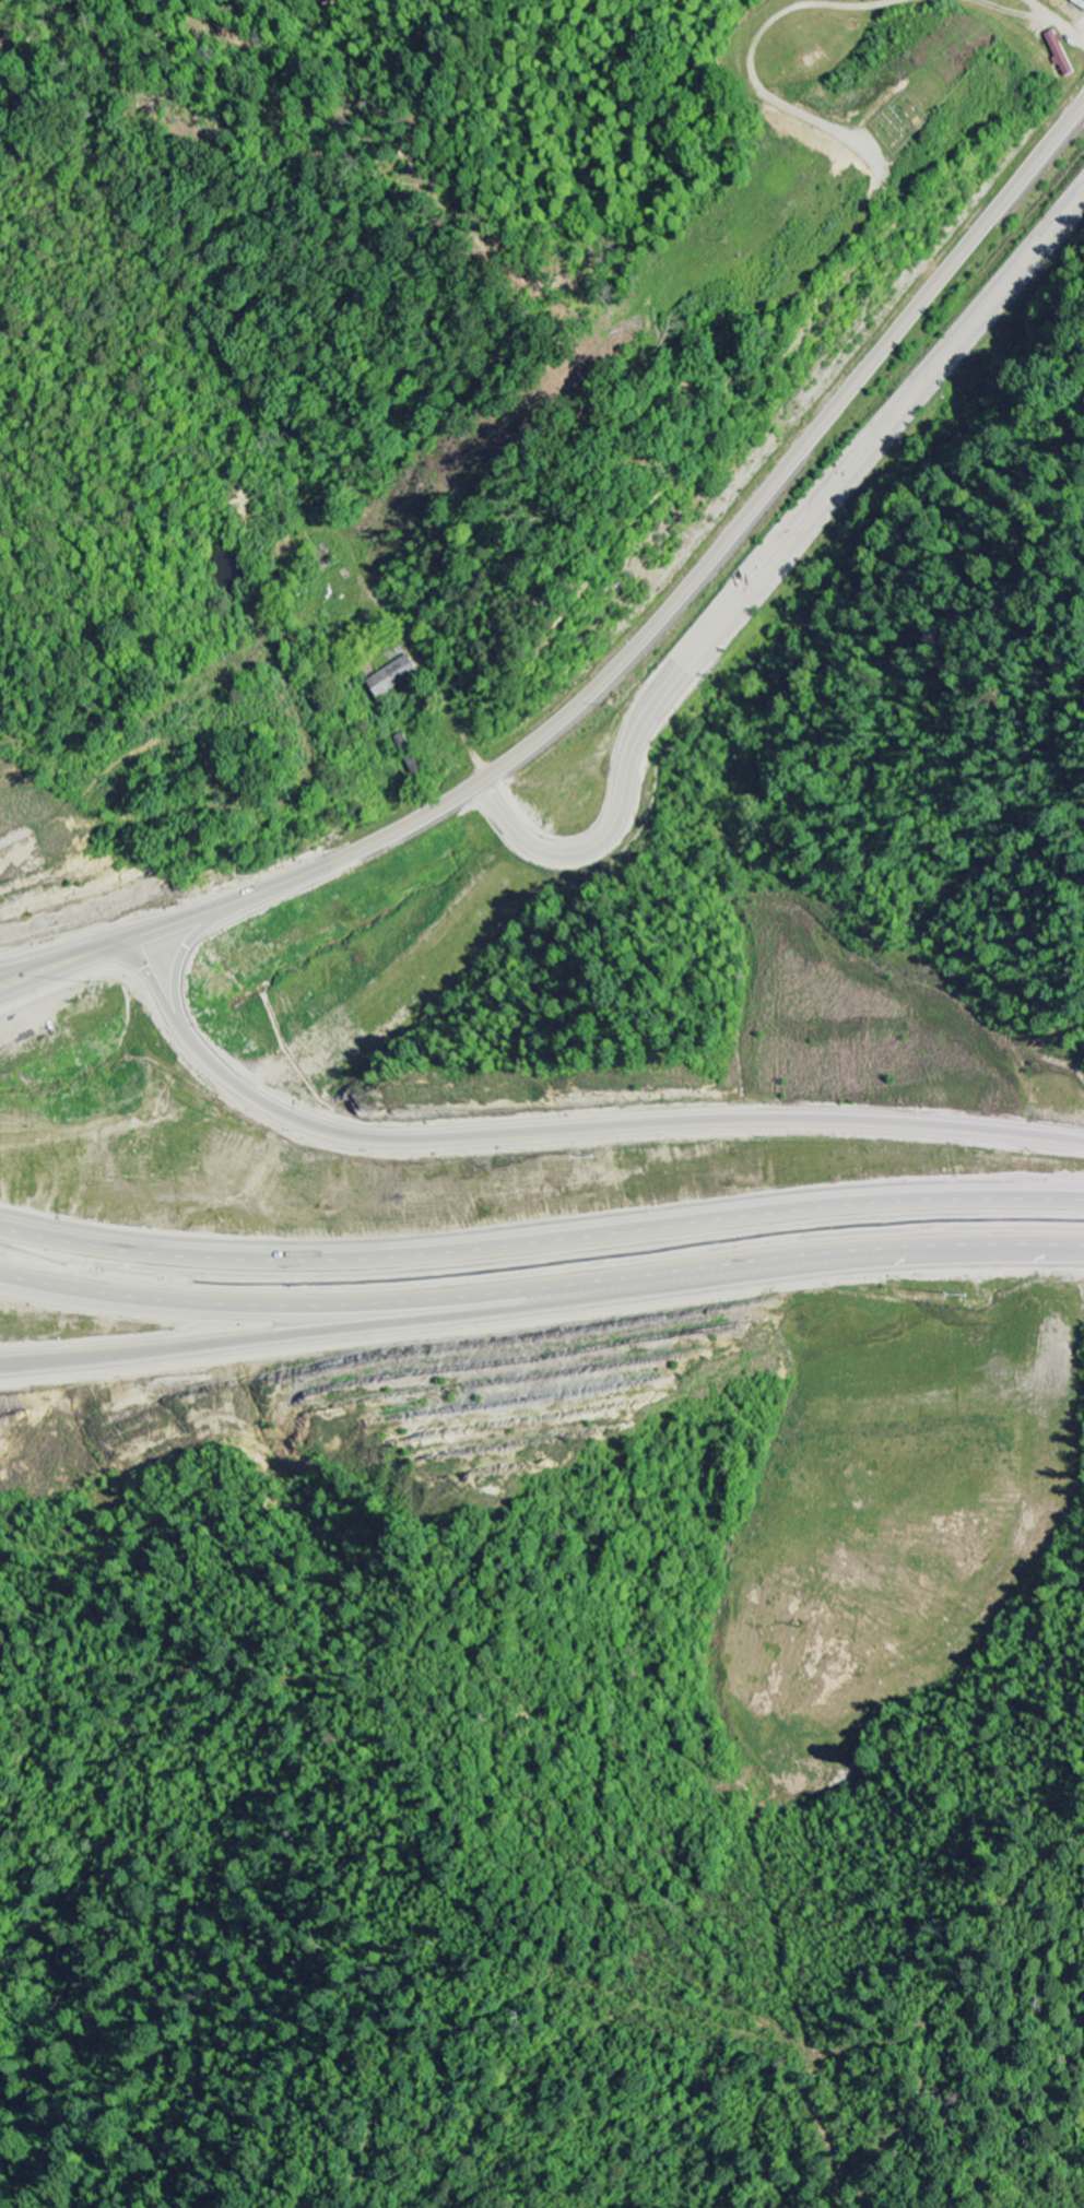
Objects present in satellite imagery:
road: (1032, 16)
road: (755, 49)
building: (1061, 55)
road: (768, 563)
road: (625, 653)
building: (397, 676)
road: (190, 945)
road: (559, 1132)
road: (541, 1237)
road: (541, 1287)
road: (447, 1314)

